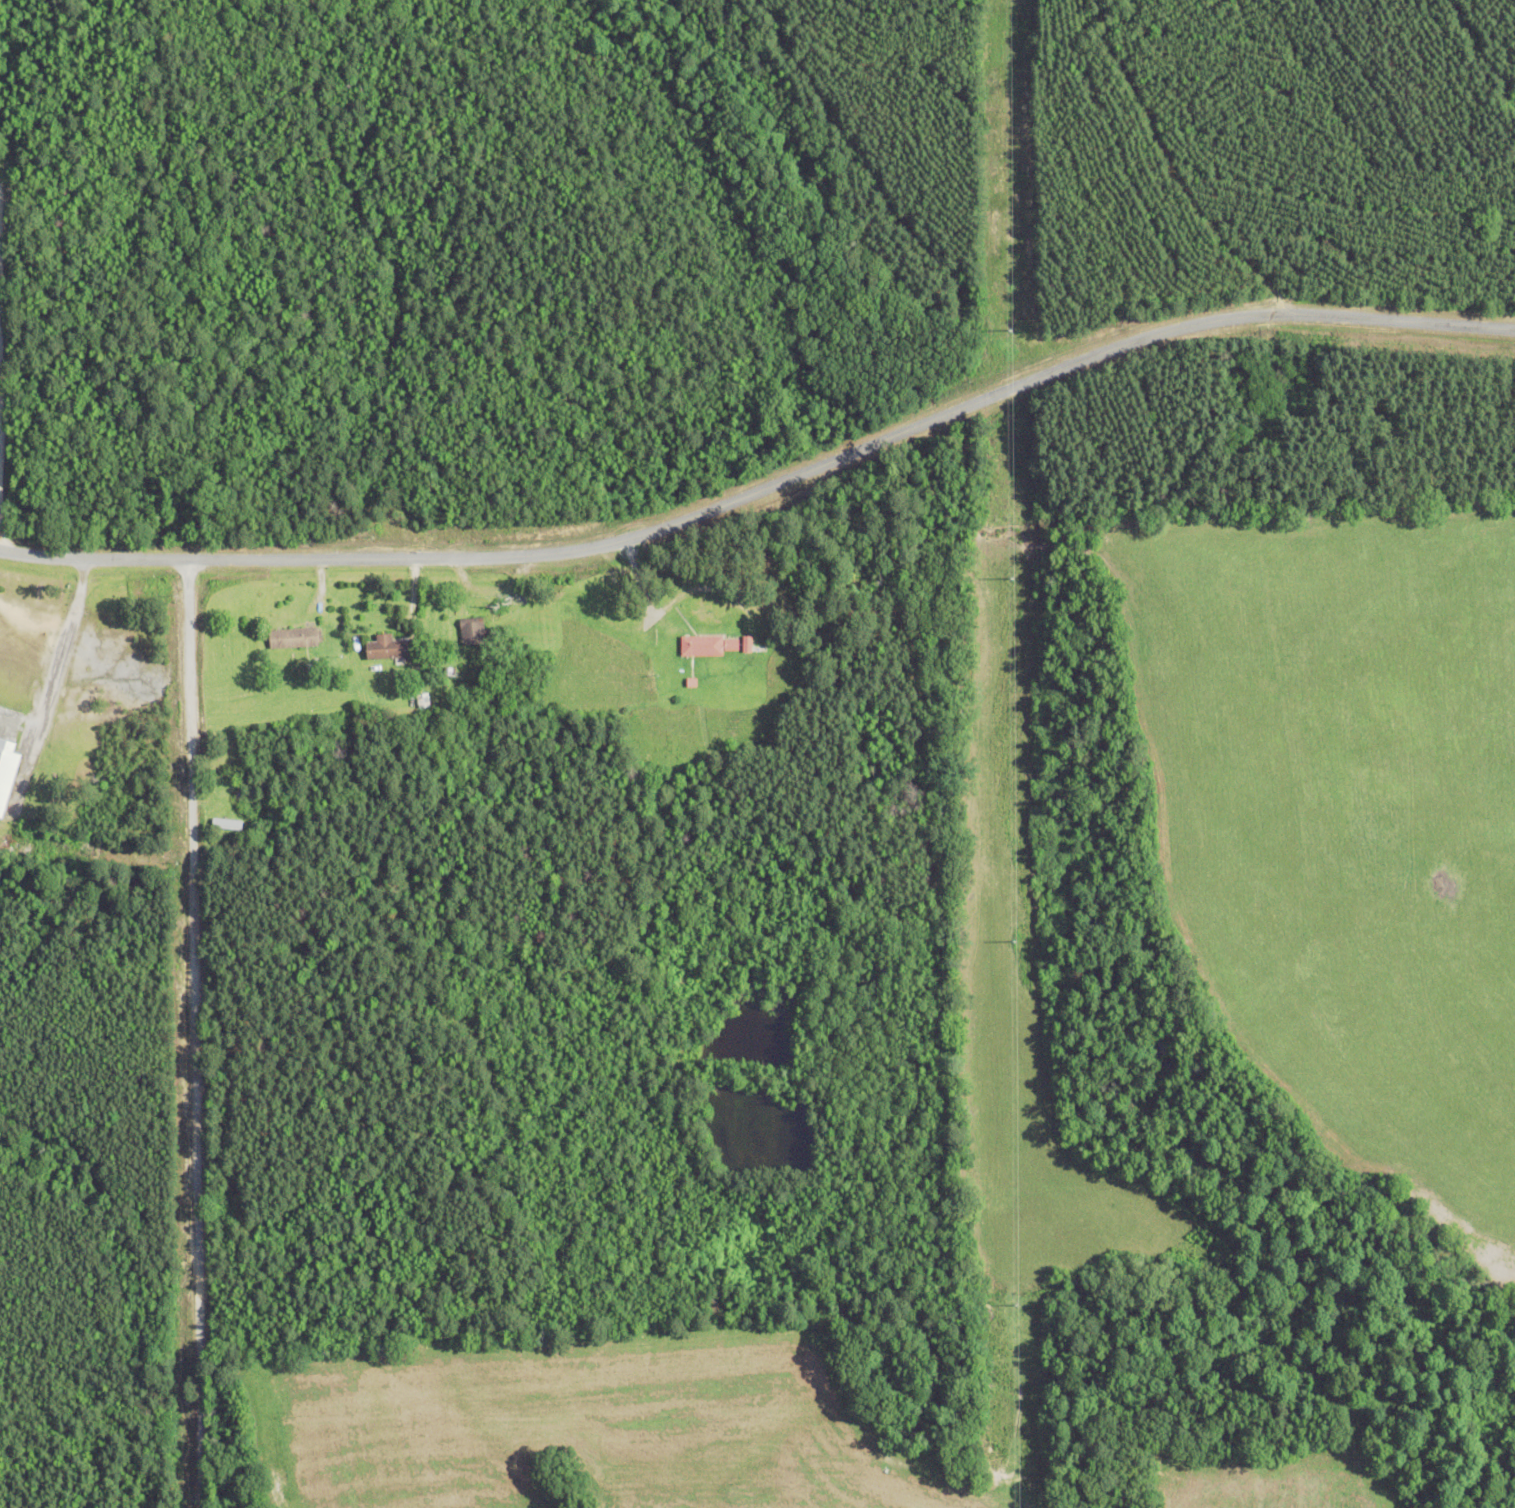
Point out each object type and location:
road: (767, 485)
building: (468, 632)
building: (291, 637)
building: (704, 645)
building: (383, 647)
road: (59, 661)
building: (250, 772)
building: (7, 774)
building: (224, 824)
road: (193, 1032)

